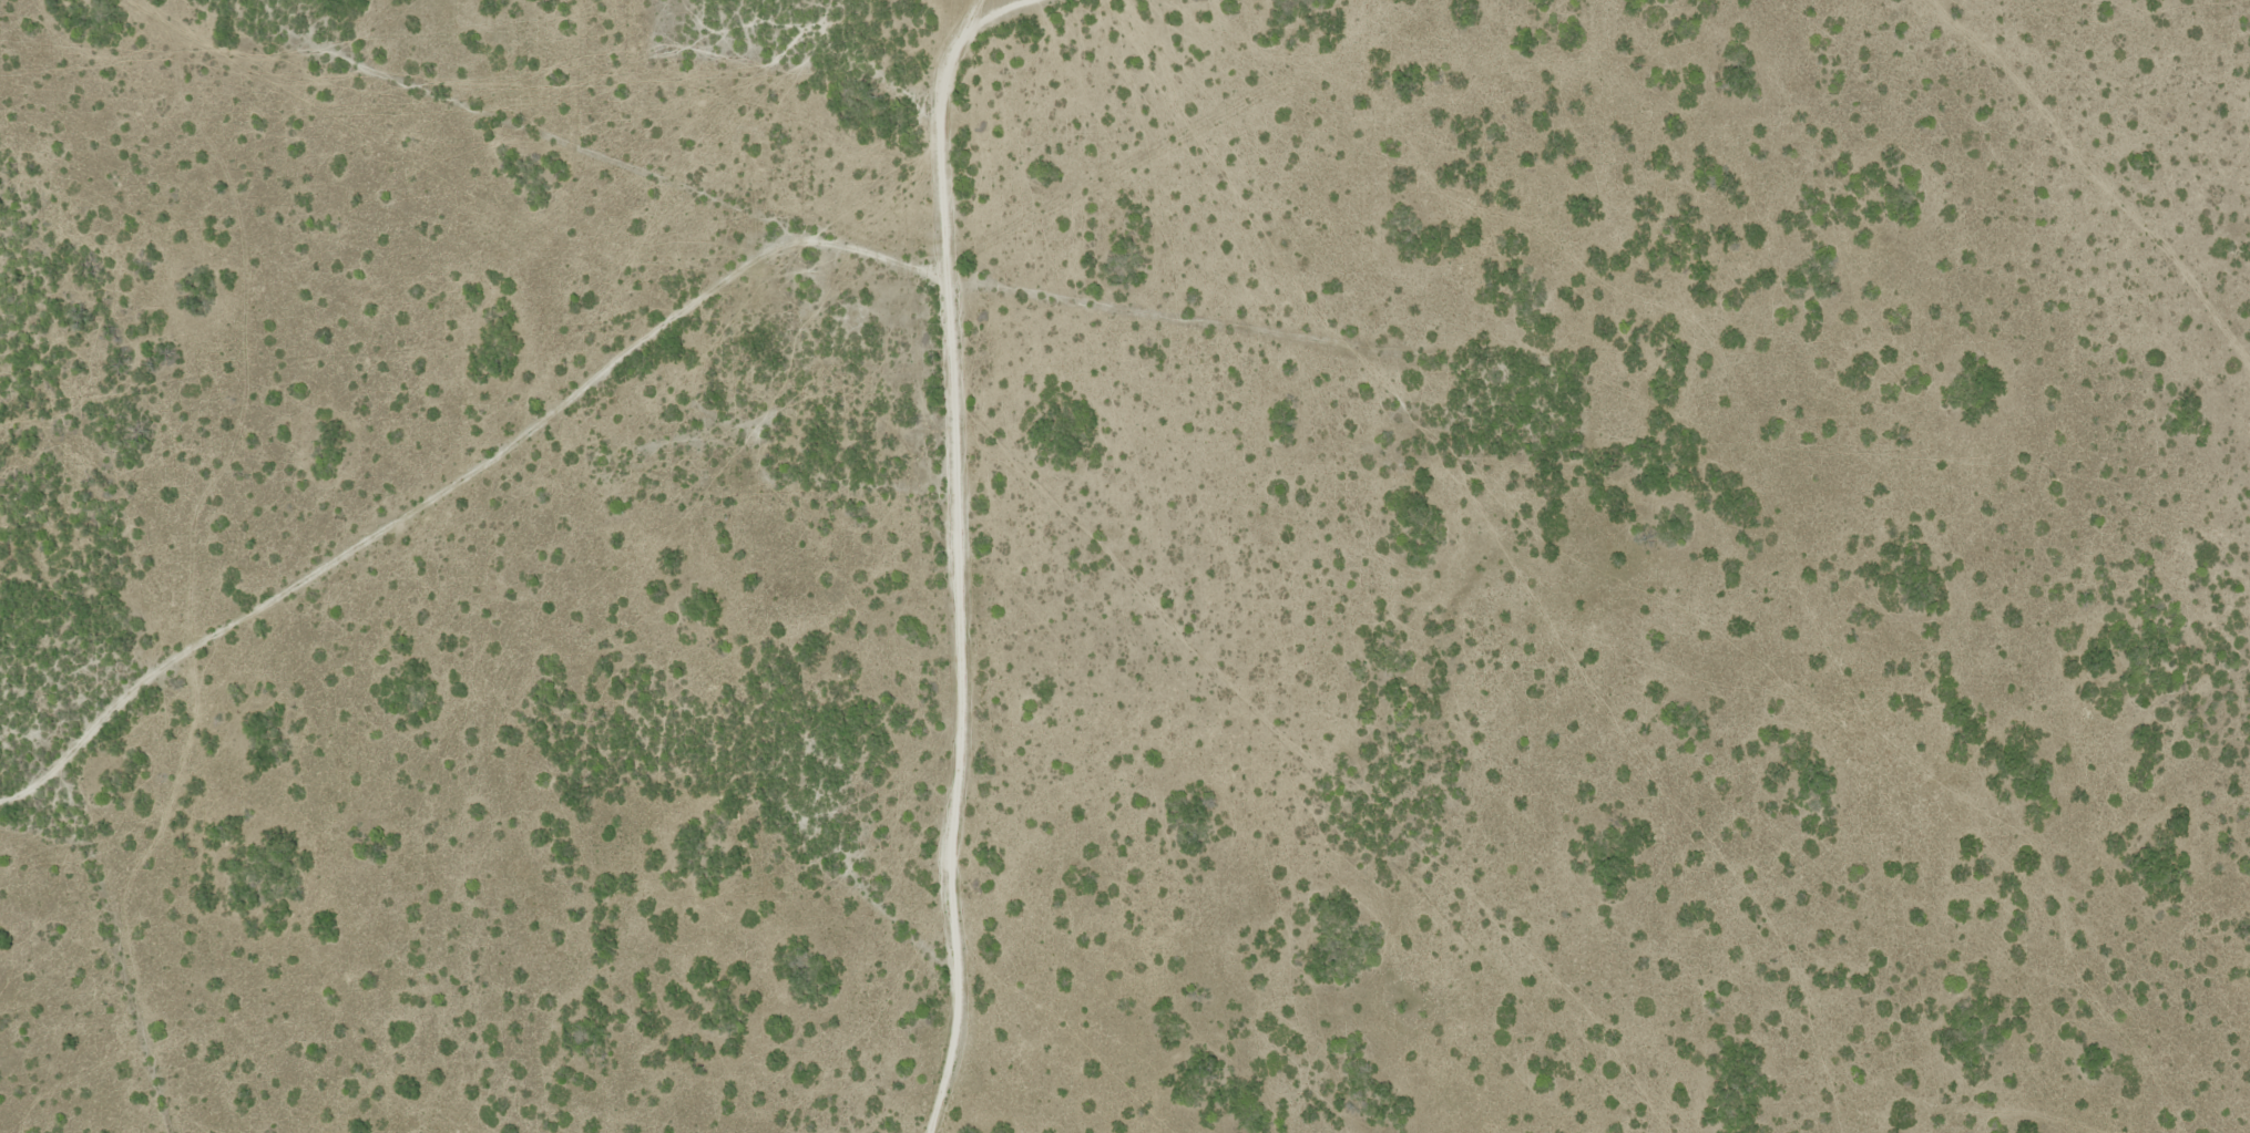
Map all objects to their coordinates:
road: (933, 53)
road: (967, 492)

